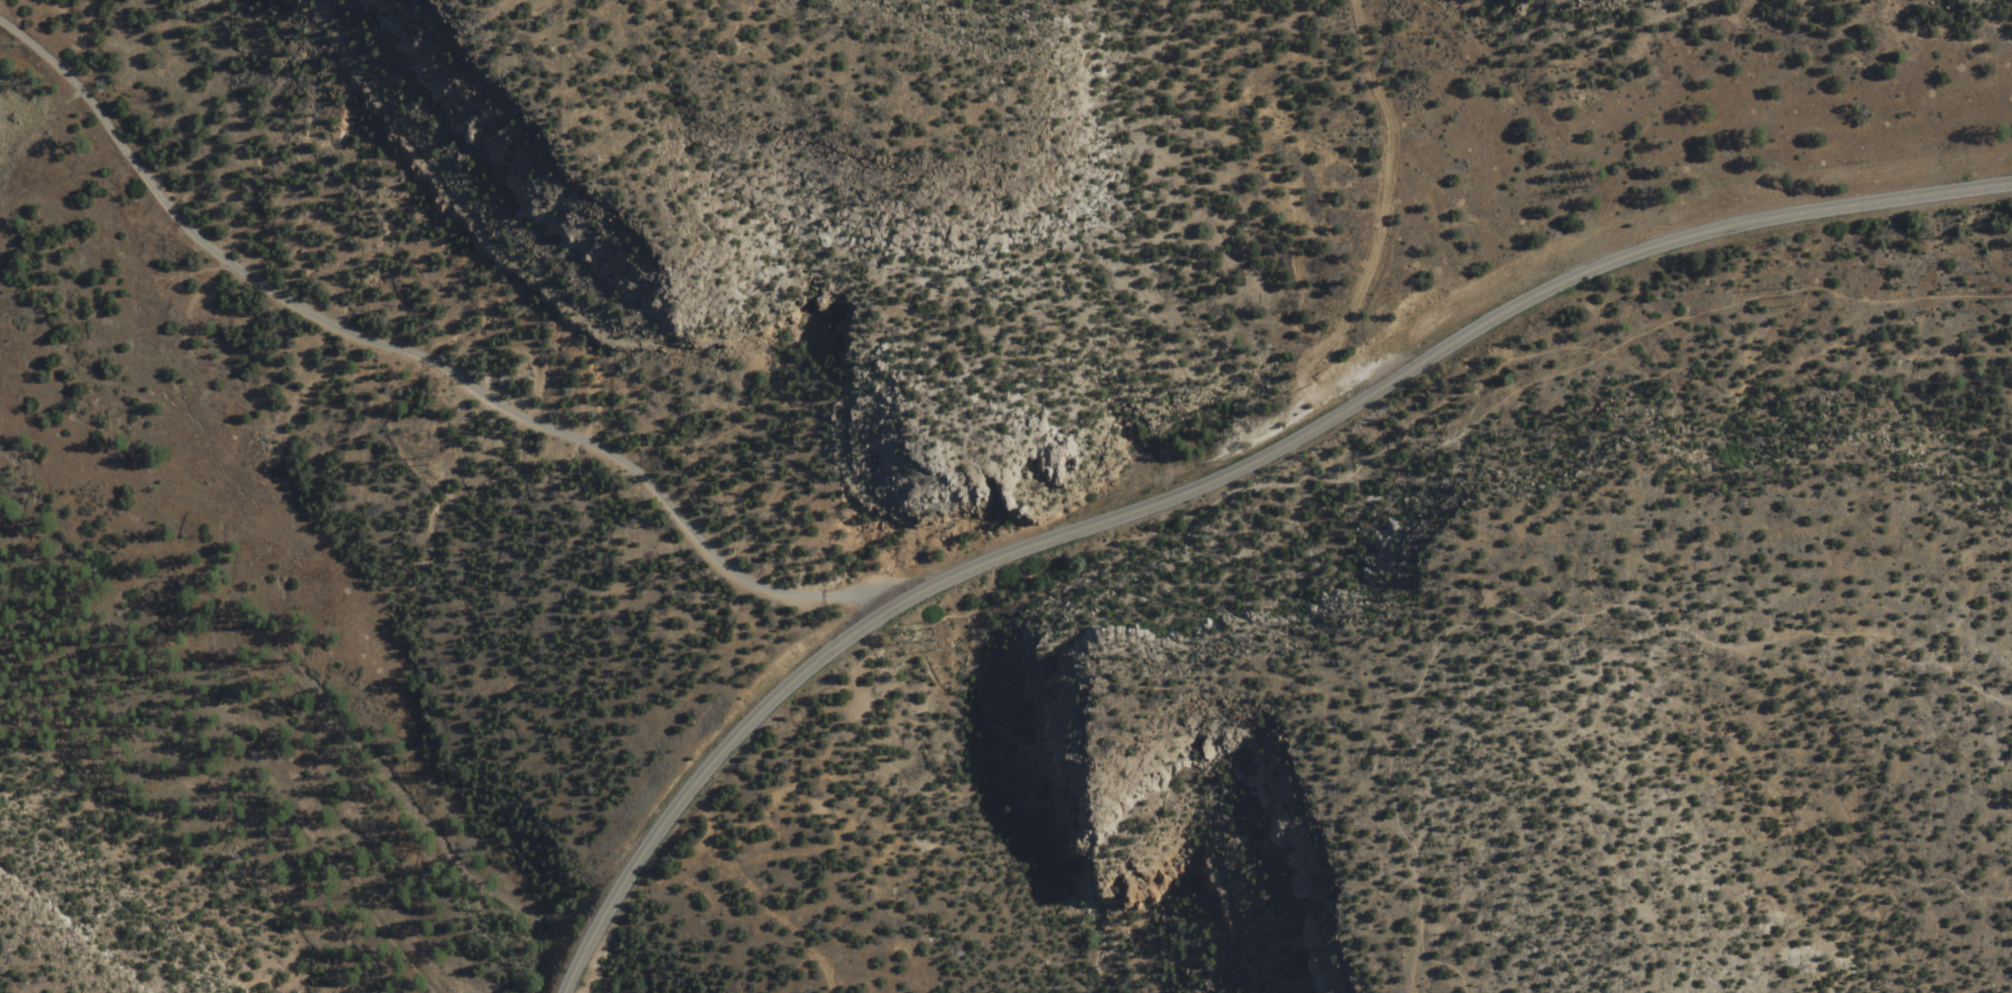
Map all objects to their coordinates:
road: (1386, 209)
parking lot: (1378, 341)
road: (424, 367)
road: (1475, 385)
road: (1215, 479)
road: (1528, 616)
road: (933, 624)
road: (1023, 805)
road: (1877, 874)

